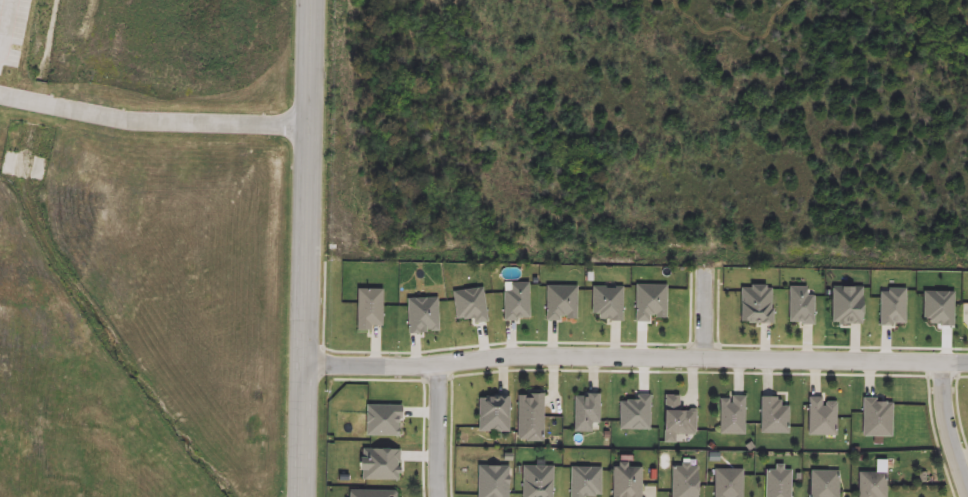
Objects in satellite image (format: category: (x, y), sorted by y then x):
road: (4, 23)
parking lot: (12, 29)
road: (153, 121)
road: (306, 248)
building: (514, 303)
building: (558, 303)
building: (648, 303)
building: (469, 304)
building: (605, 304)
road: (325, 305)
building: (843, 305)
building: (755, 306)
building: (890, 306)
building: (798, 308)
building: (366, 310)
building: (938, 310)
building: (419, 316)
road: (706, 316)
road: (508, 342)
road: (706, 346)
road: (843, 346)
road: (635, 358)
road: (691, 372)
road: (944, 374)
road: (962, 377)
road: (439, 378)
road: (382, 379)
road: (960, 410)
building: (584, 414)
building: (633, 414)
building: (493, 416)
building: (729, 417)
building: (771, 417)
building: (820, 419)
building: (528, 420)
building: (676, 420)
building: (874, 420)
building: (381, 422)
road: (949, 425)
road: (442, 431)
road: (453, 437)
road: (938, 437)
road: (426, 439)
building: (376, 464)
building: (491, 482)
building: (535, 482)
building: (624, 482)
building: (682, 482)
building: (775, 482)
building: (583, 483)
building: (726, 483)
building: (822, 484)
building: (870, 486)
building: (371, 495)

